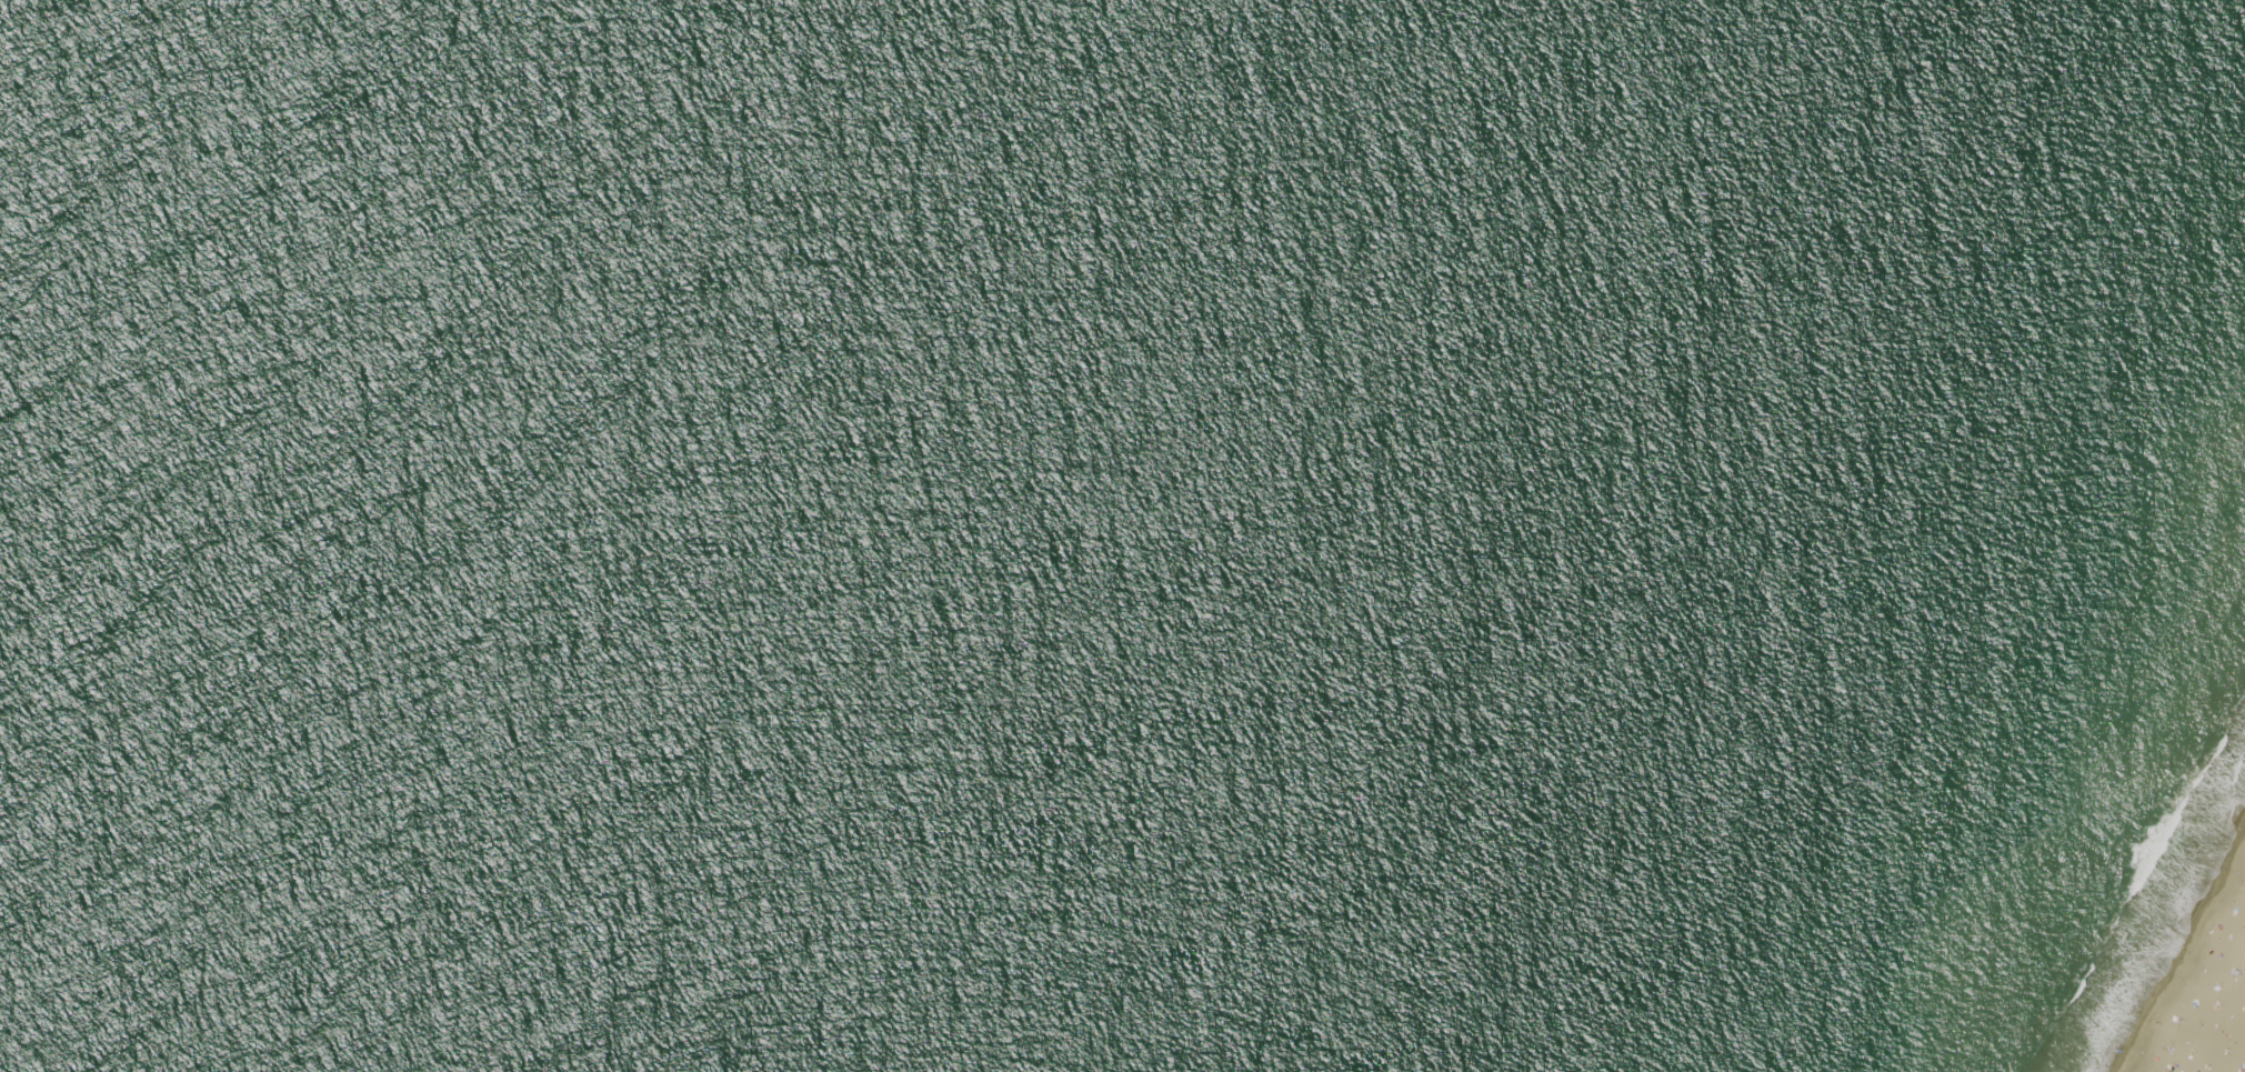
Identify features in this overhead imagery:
park: (2196, 1000)

